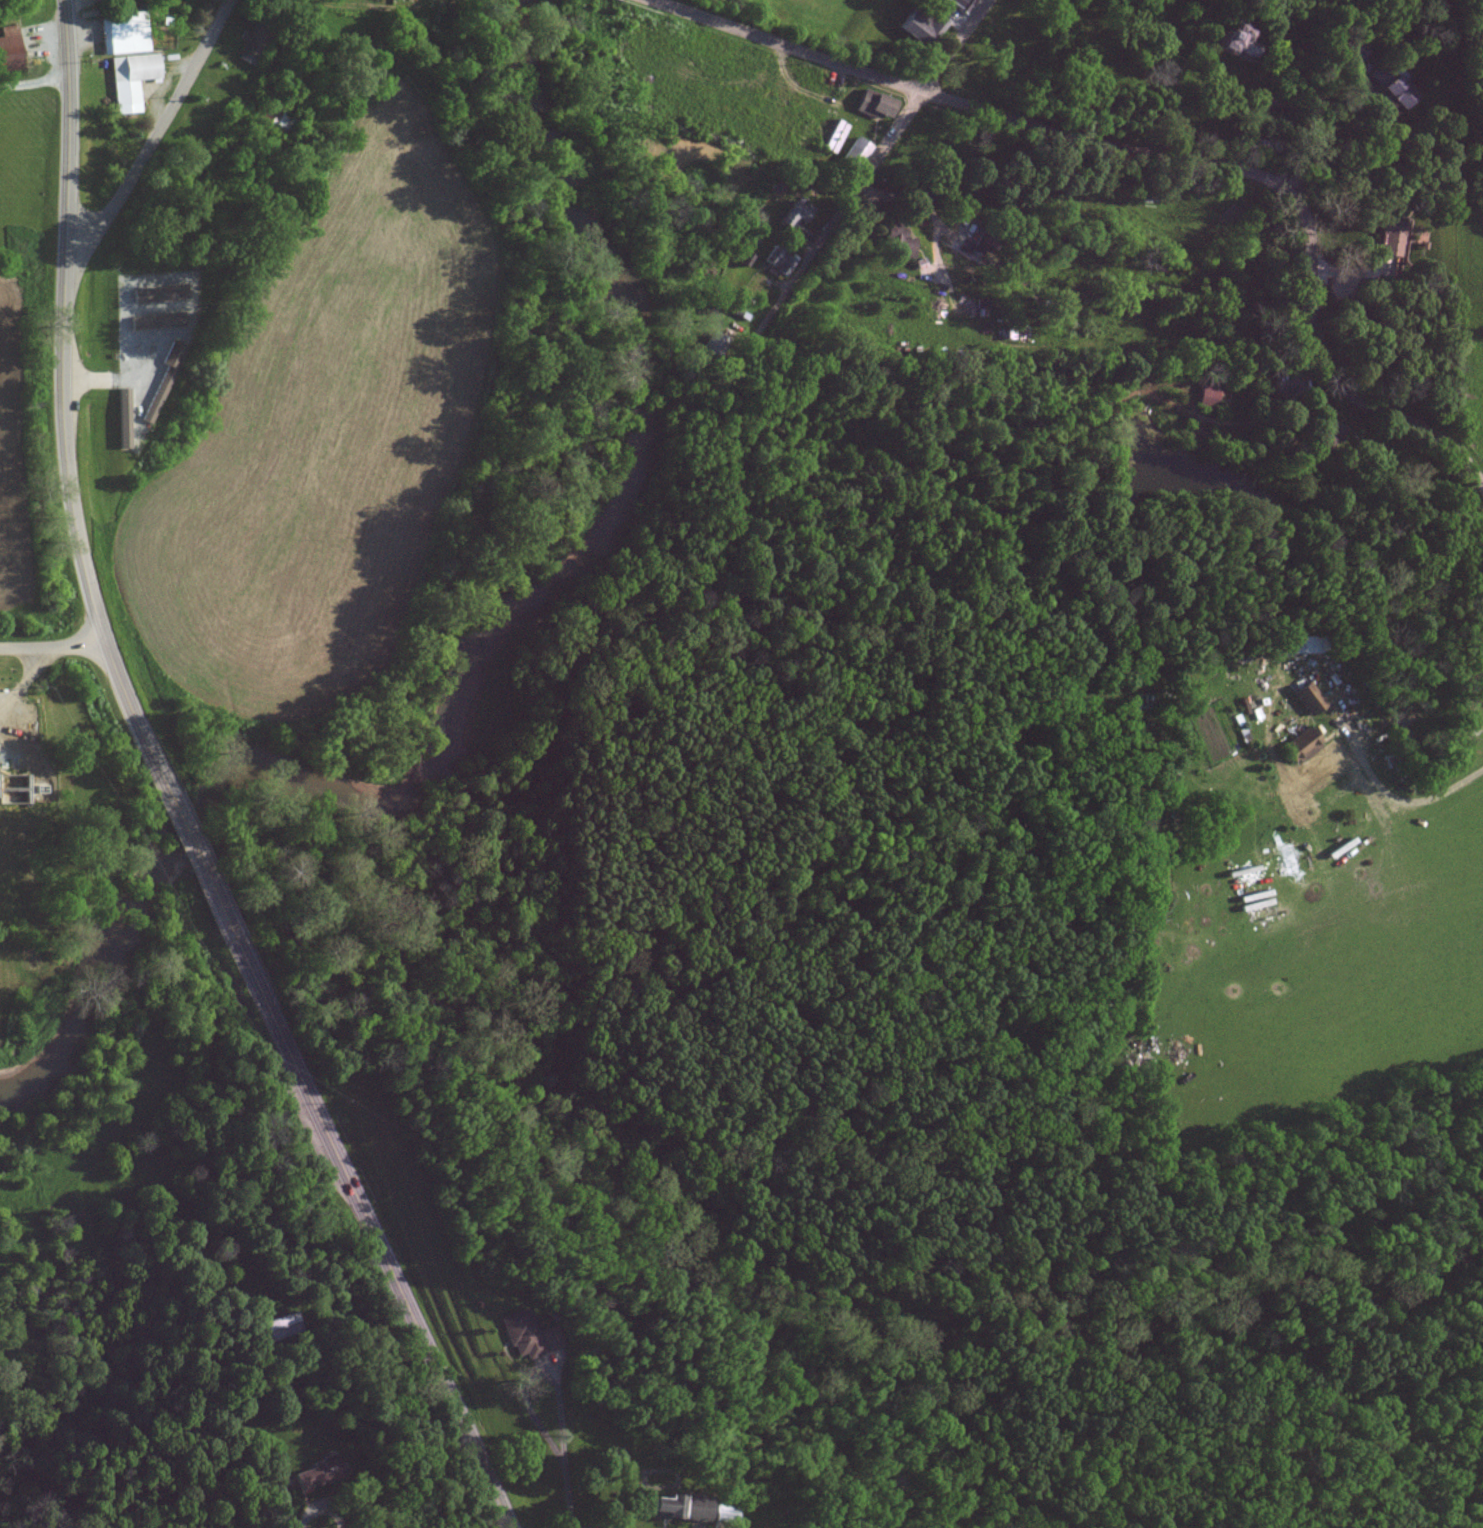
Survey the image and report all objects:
building: (961, 4)
building: (923, 28)
building: (1237, 42)
building: (251, 44)
road: (67, 47)
road: (785, 47)
road: (956, 47)
building: (9, 49)
building: (1360, 49)
building: (128, 59)
road: (34, 82)
building: (1396, 88)
building: (875, 105)
road: (157, 135)
road: (1319, 135)
road: (889, 140)
building: (856, 154)
road: (1290, 196)
building: (793, 216)
building: (1399, 236)
building: (900, 241)
building: (781, 262)
building: (159, 294)
building: (983, 308)
building: (158, 321)
building: (715, 344)
building: (163, 380)
building: (1209, 396)
building: (124, 418)
road: (65, 461)
road: (52, 646)
river: (481, 662)
building: (1310, 699)
building: (1301, 745)
wastewater plant: (18, 749)
road: (1402, 797)
road: (202, 867)
road: (370, 1226)
building: (283, 1325)
building: (528, 1335)
road: (533, 1373)
building: (318, 1474)
road: (568, 1499)
road: (320, 1503)
building: (673, 1508)
building: (724, 1512)

